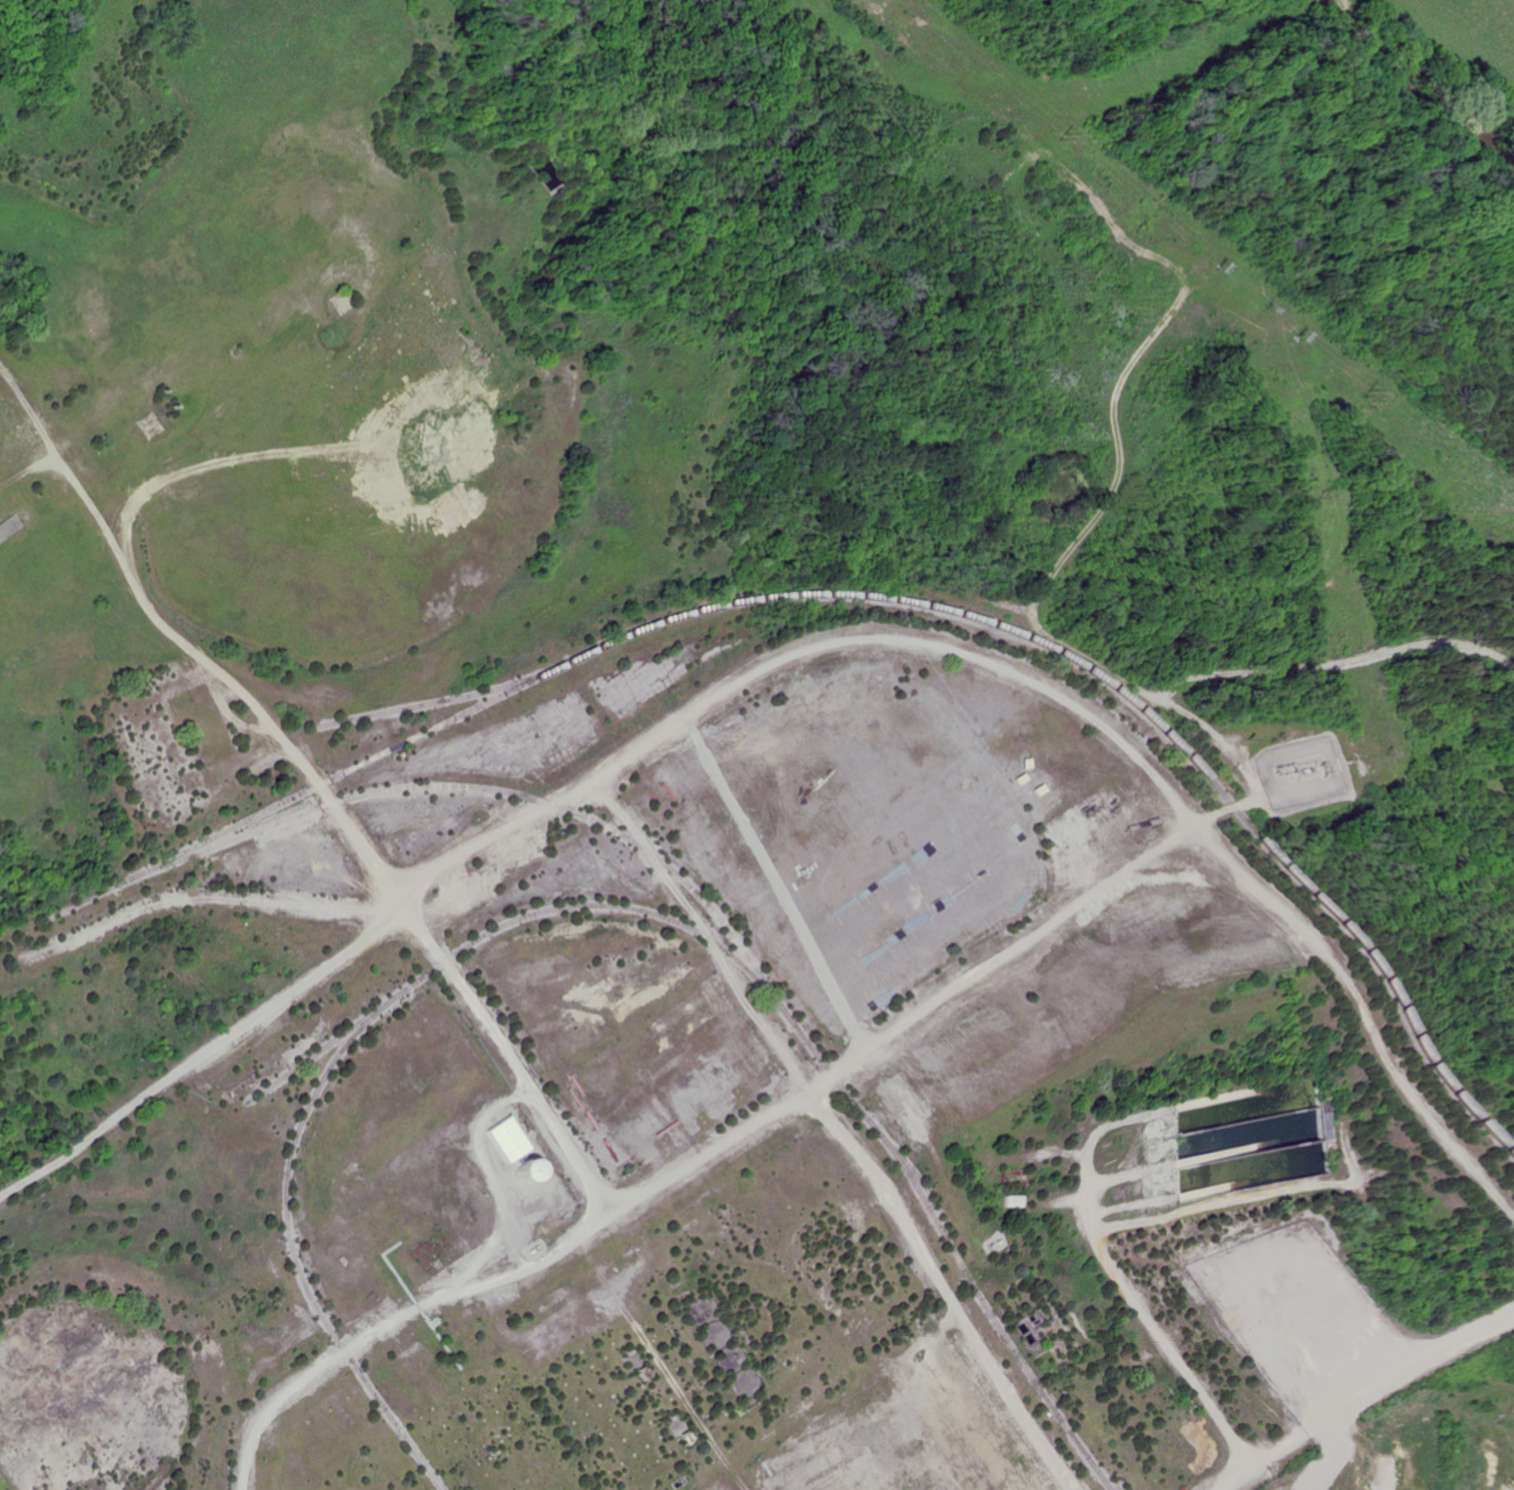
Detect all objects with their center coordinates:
power tower: (1057, 133)
power tower: (1209, 267)
power tower: (1257, 308)
power tower: (1289, 337)
power tower: (1356, 392)
road: (106, 420)
power tower: (1312, 495)
railway: (886, 594)
railway: (424, 701)
road: (277, 734)
power tower: (1379, 750)
power tower: (1315, 765)
power substation: (1294, 769)
road: (589, 781)
railway: (500, 789)
road: (1134, 863)
road: (776, 885)
railway: (349, 1033)
railway: (324, 1042)
building: (509, 1139)
building: (1019, 1201)
road: (569, 1246)
railway: (954, 1251)
road: (941, 1290)
road: (1164, 1329)
road: (1385, 1373)

